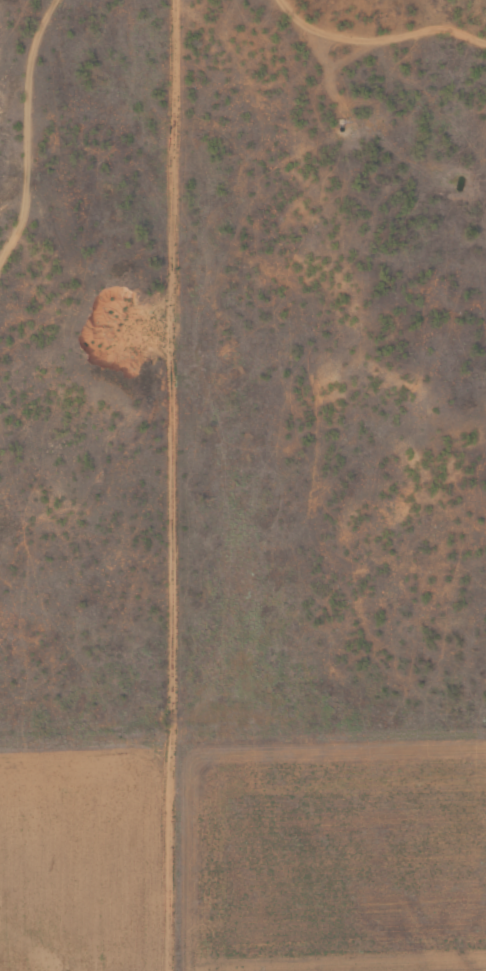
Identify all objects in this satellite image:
road: (21, 101)

